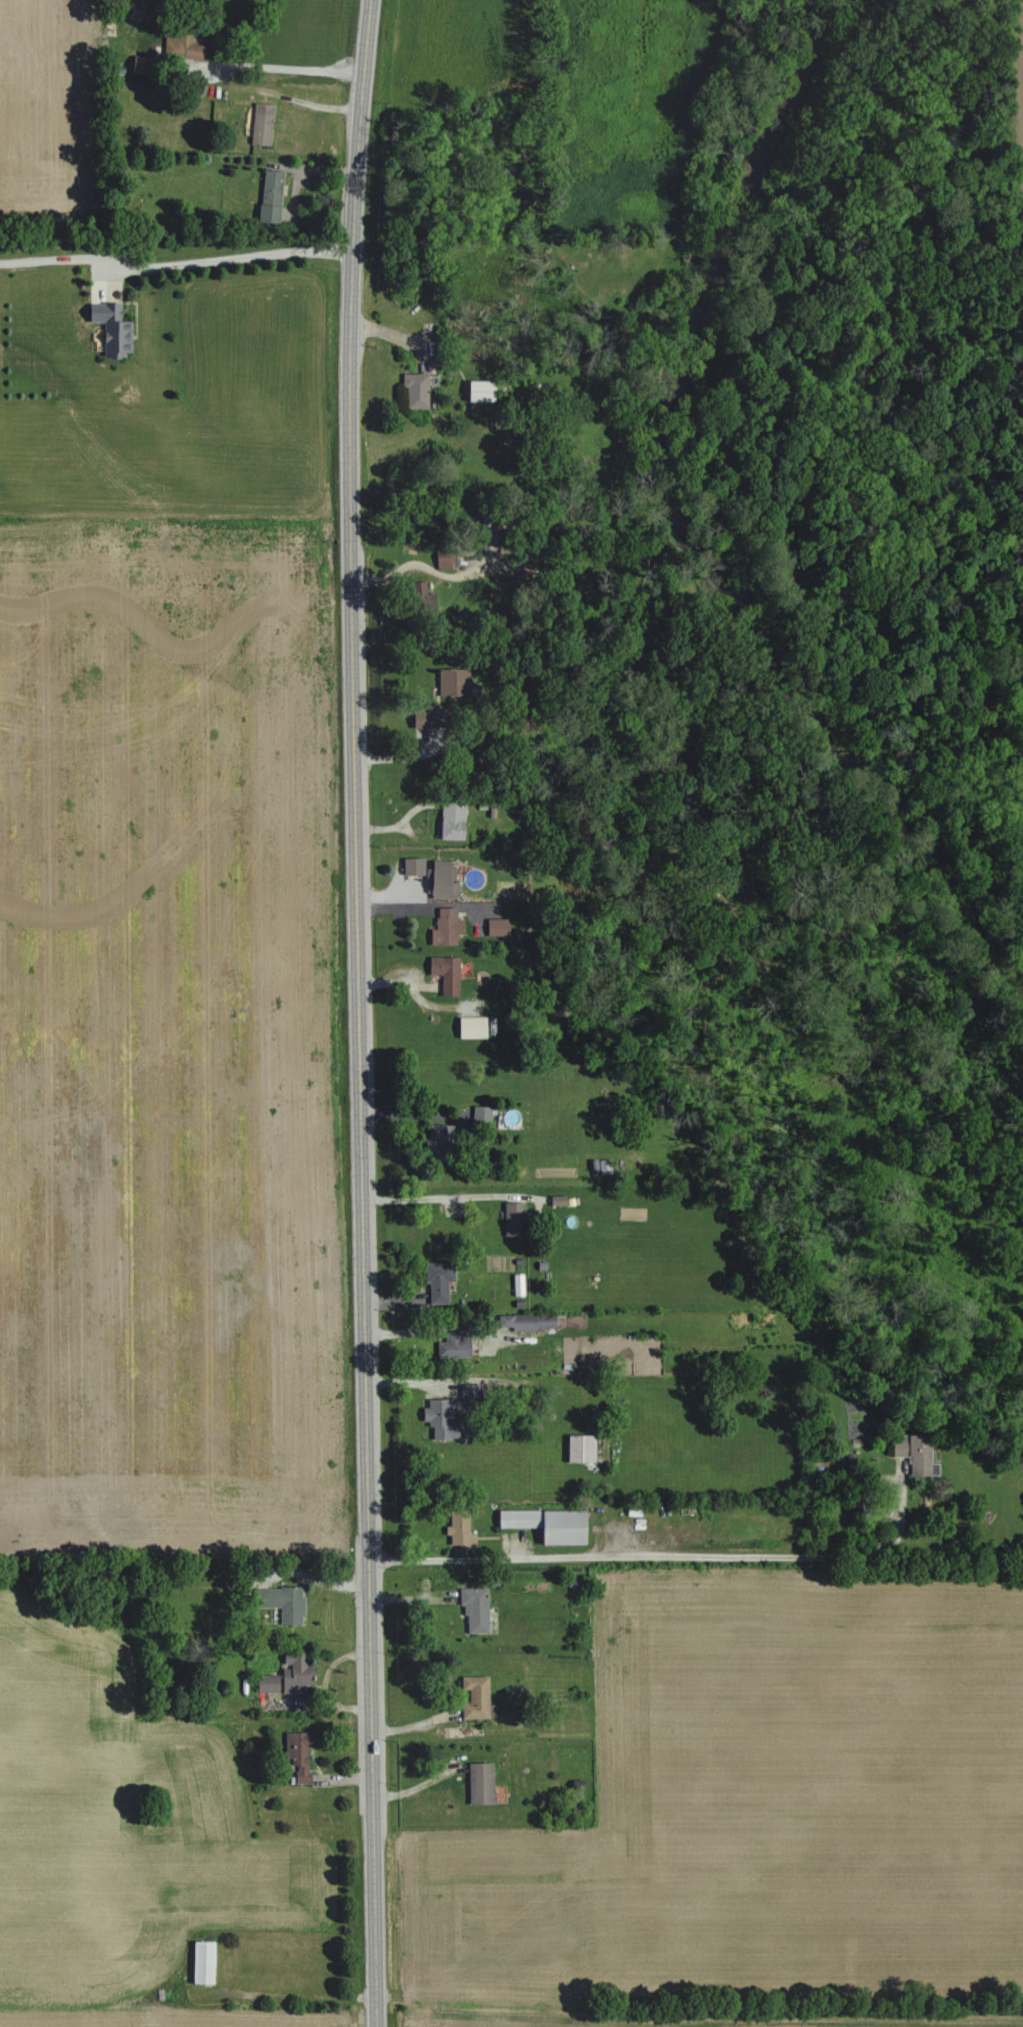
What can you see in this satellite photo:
building: (139, 64)
road: (272, 65)
building: (260, 125)
building: (270, 195)
road: (176, 262)
building: (112, 329)
building: (414, 389)
building: (478, 390)
building: (453, 682)
building: (425, 718)
building: (451, 820)
building: (413, 866)
building: (442, 878)
building: (445, 926)
building: (496, 926)
building: (445, 973)
road: (359, 1013)
building: (470, 1027)
building: (481, 1115)
building: (441, 1136)
building: (600, 1166)
road: (443, 1194)
building: (512, 1219)
building: (438, 1281)
building: (530, 1321)
road: (424, 1329)
building: (456, 1344)
building: (442, 1418)
building: (579, 1447)
building: (914, 1452)
building: (546, 1524)
building: (458, 1528)
road: (631, 1558)
building: (283, 1601)
building: (475, 1609)
building: (295, 1672)
building: (266, 1682)
building: (477, 1698)
building: (298, 1752)
building: (480, 1782)
building: (201, 1962)
road: (228, 1975)
road: (290, 1995)

